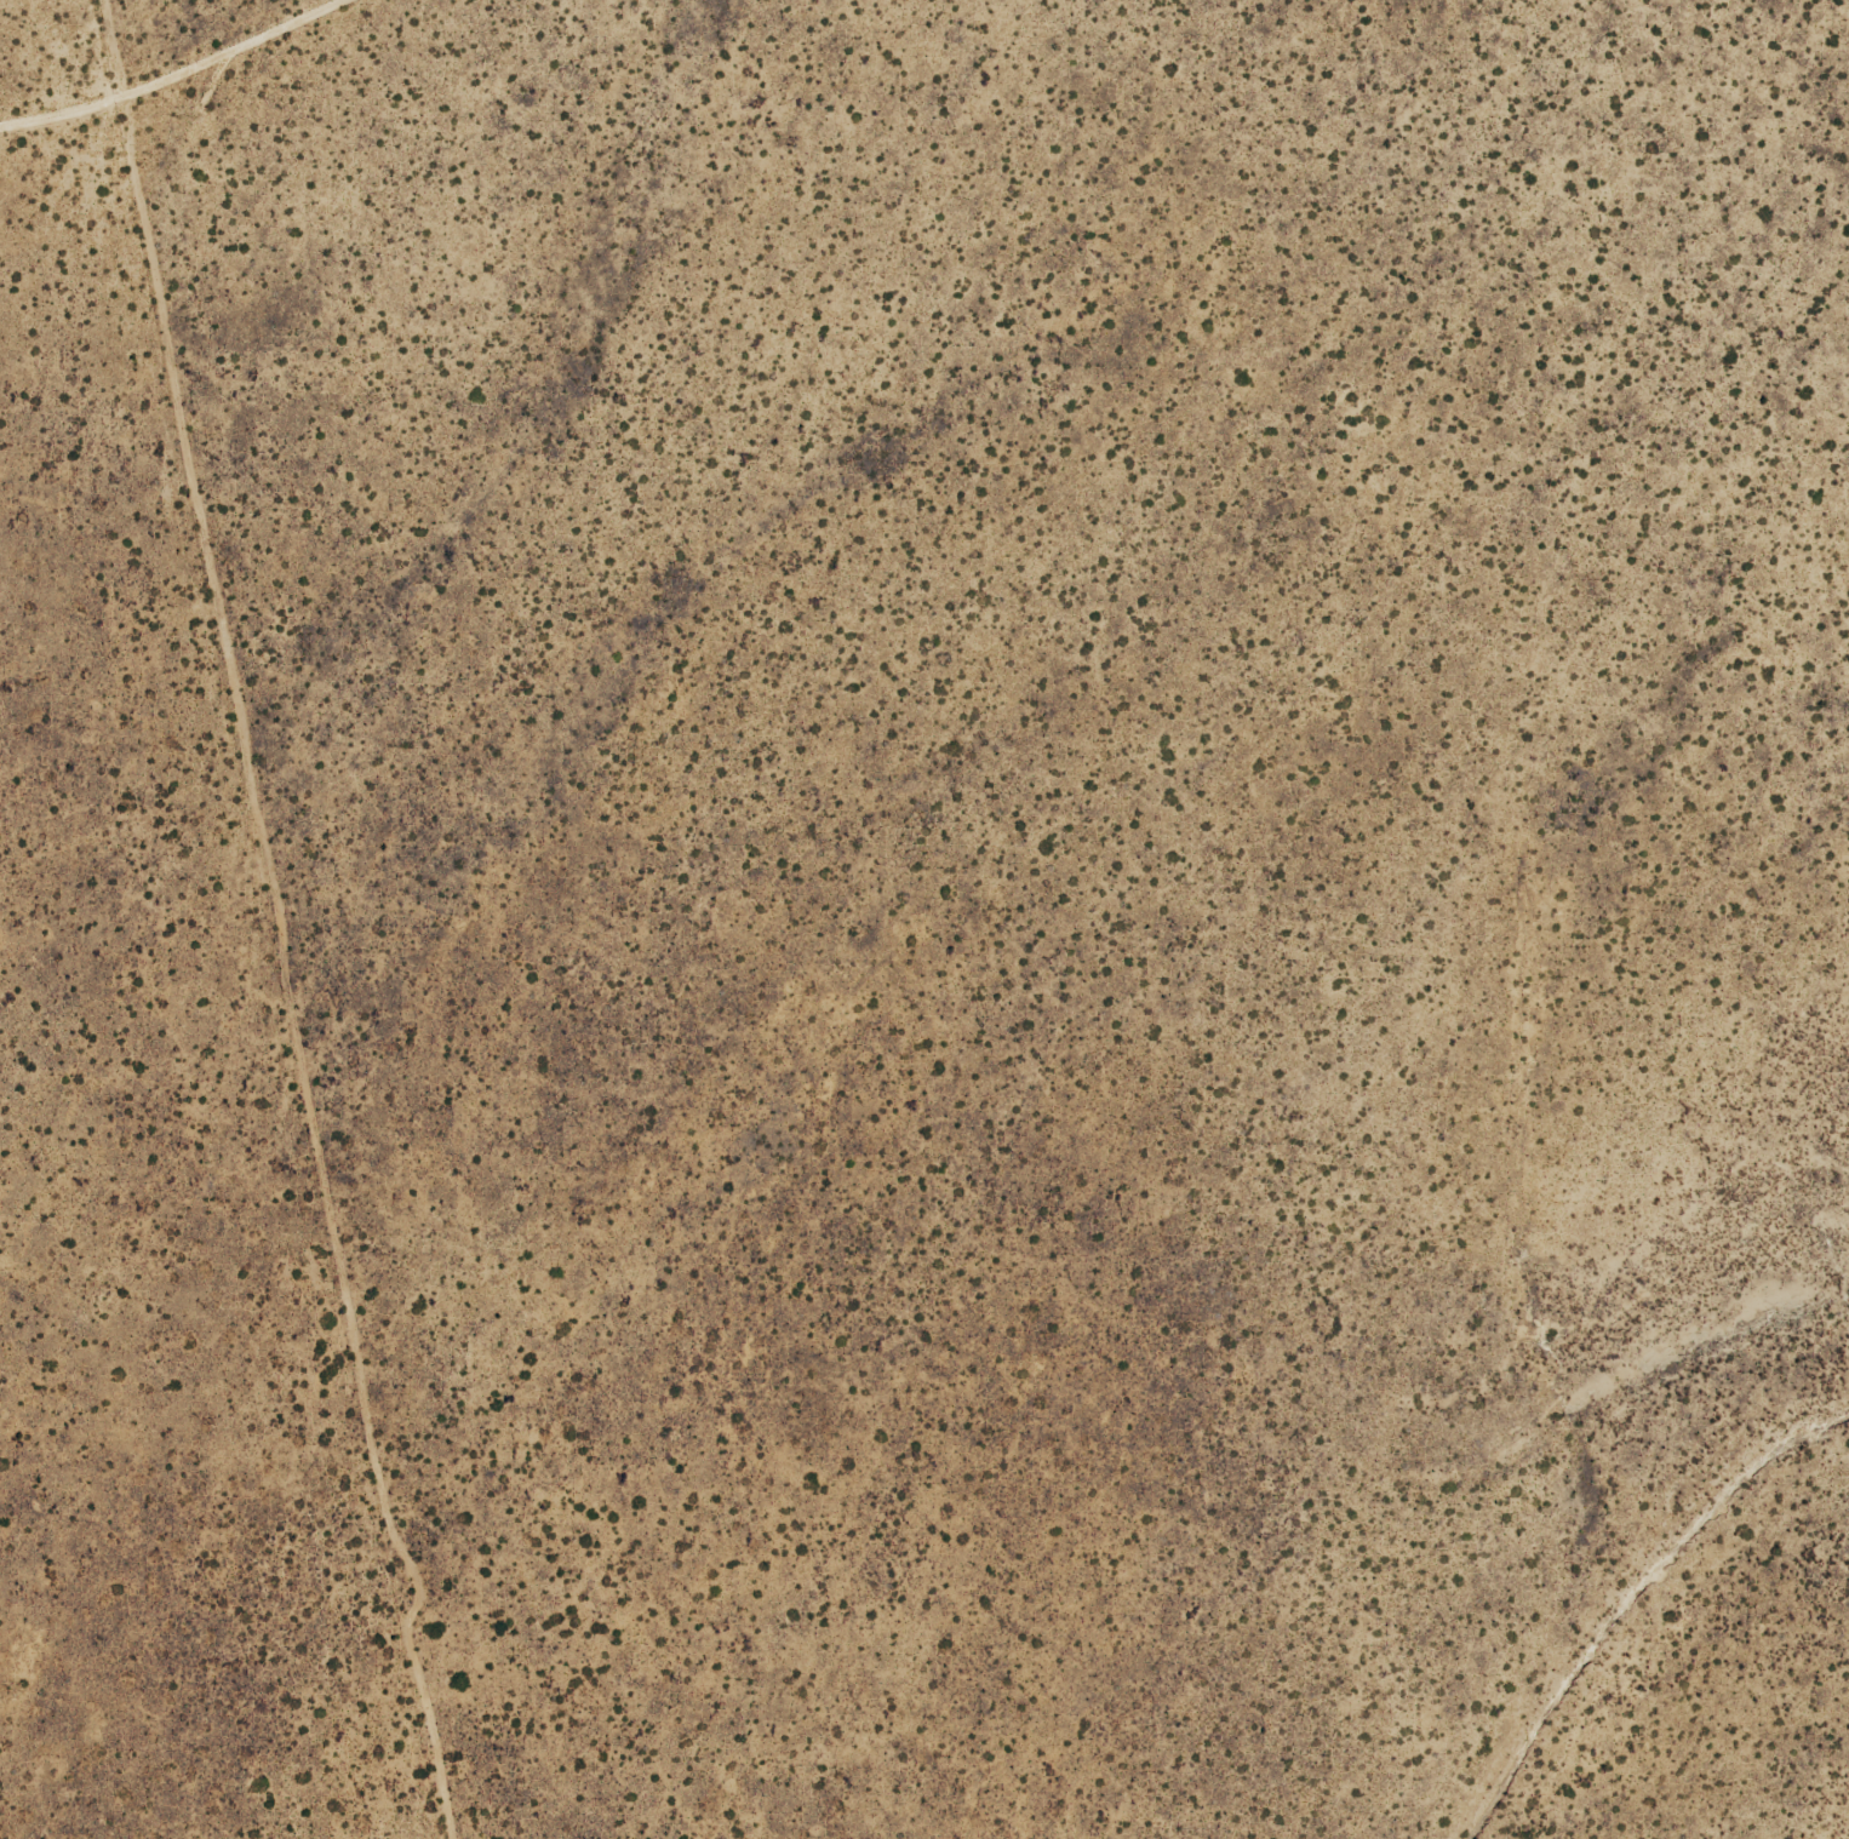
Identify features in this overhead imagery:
road: (178, 74)

